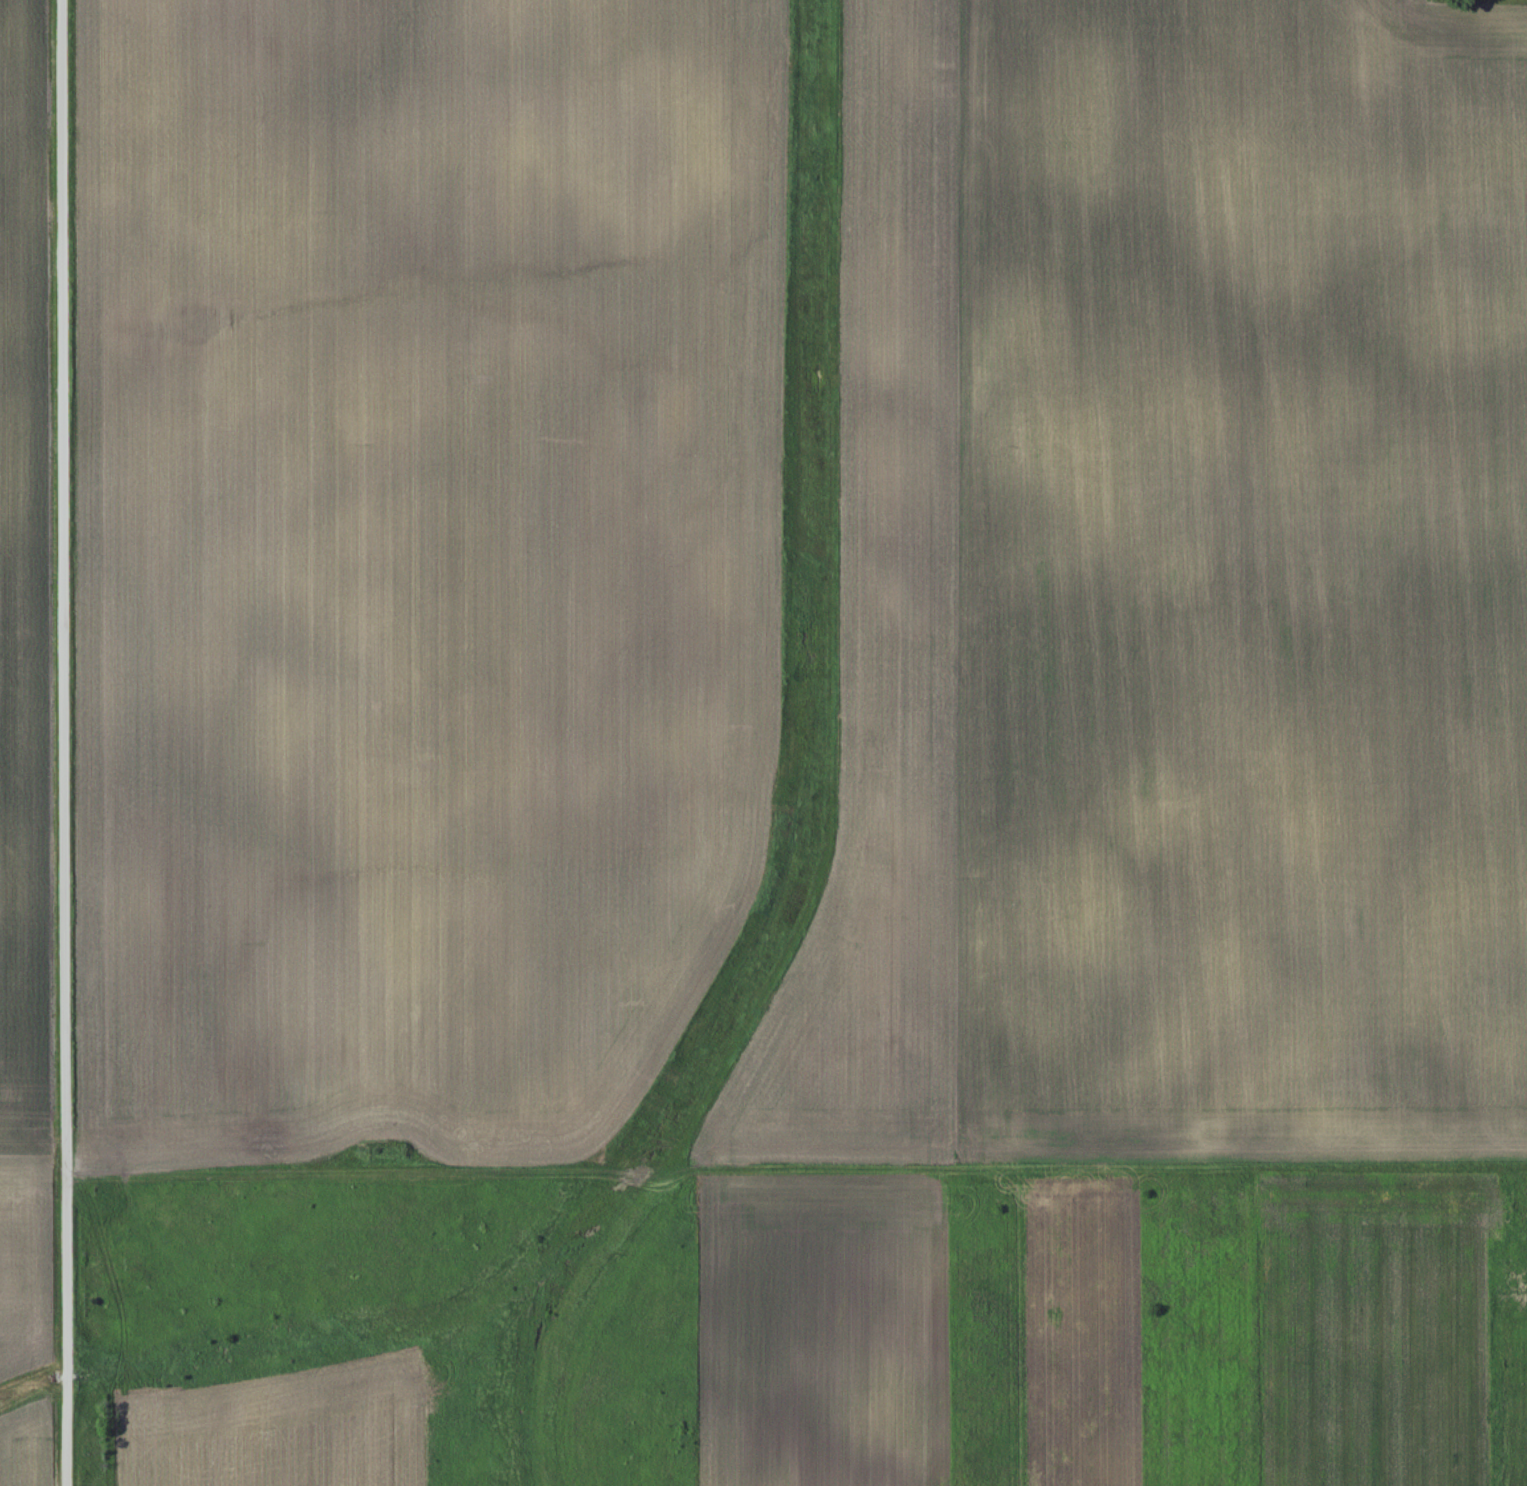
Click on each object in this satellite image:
road: (65, 743)

